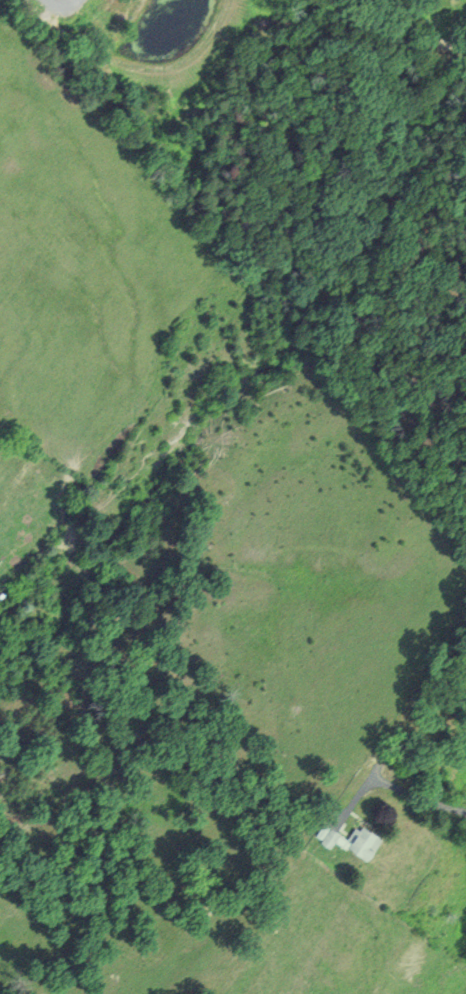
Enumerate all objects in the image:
road: (417, 798)
building: (352, 840)

